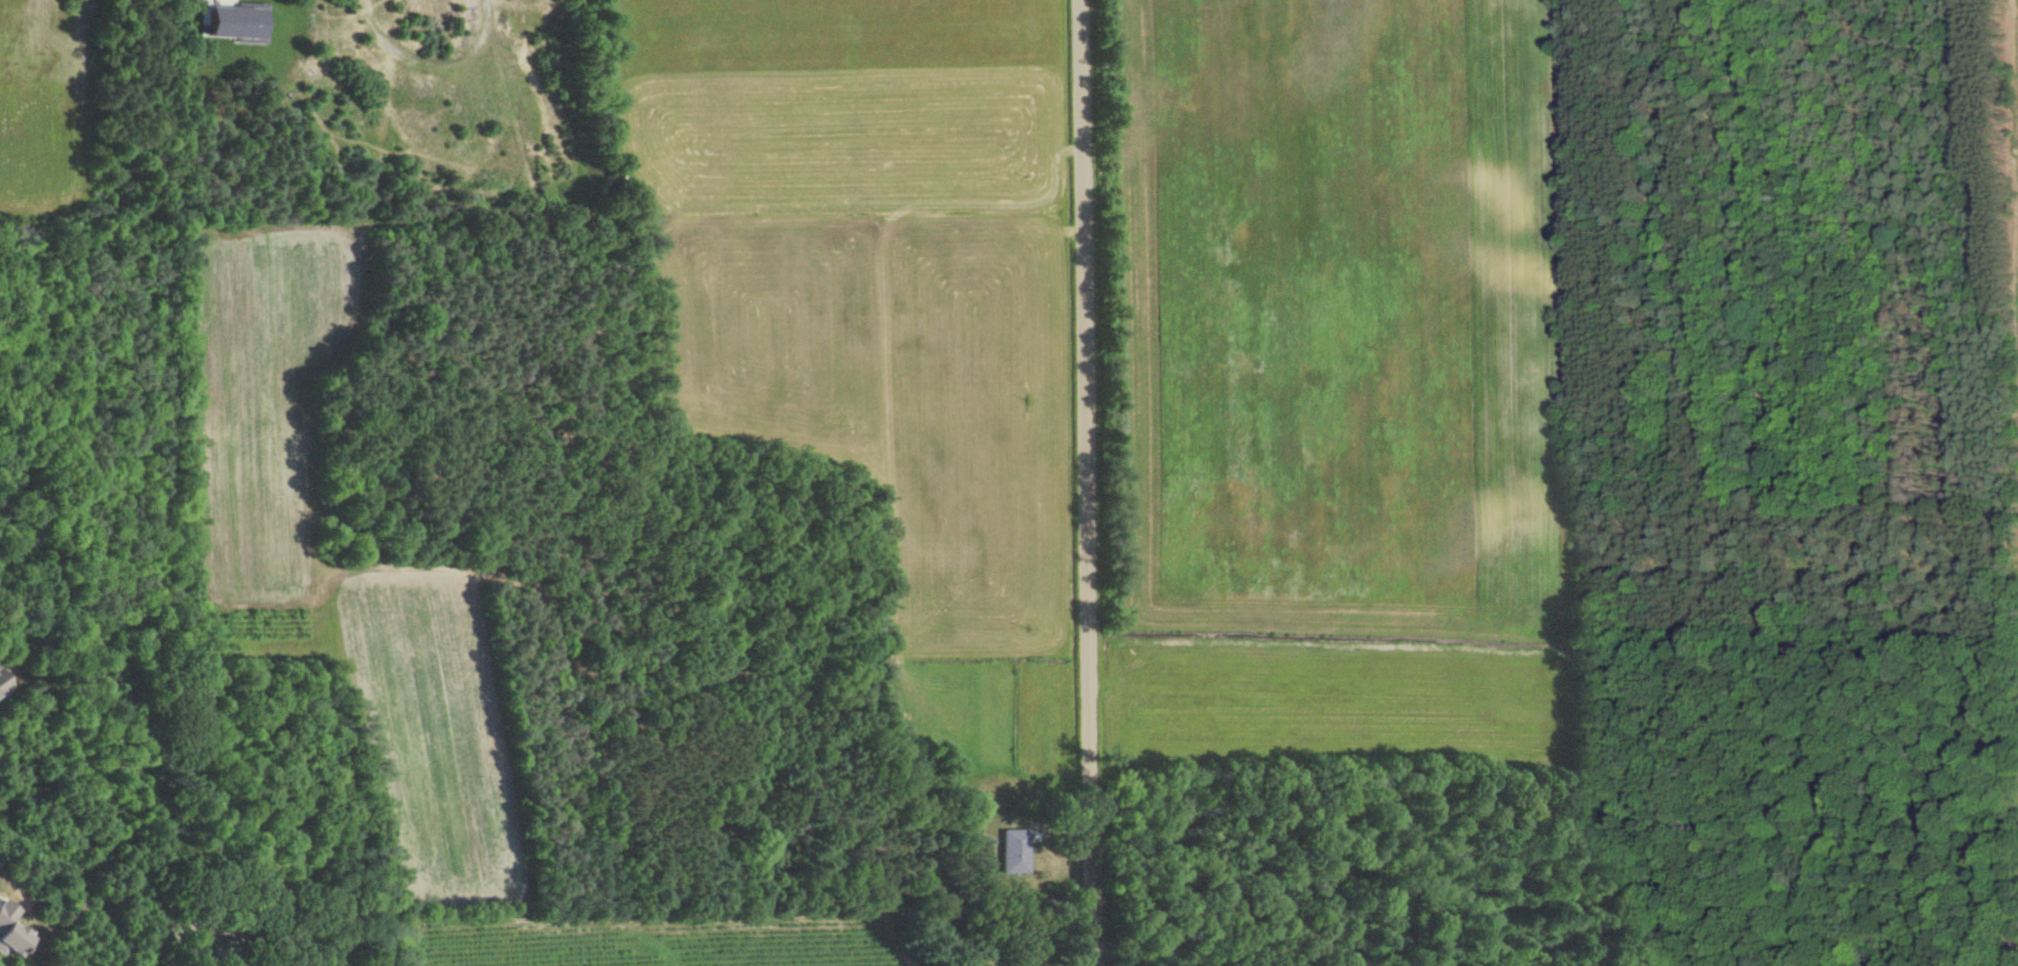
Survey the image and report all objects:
building: (235, 23)
road: (1090, 483)
building: (4, 680)
building: (1014, 850)
building: (8, 929)

